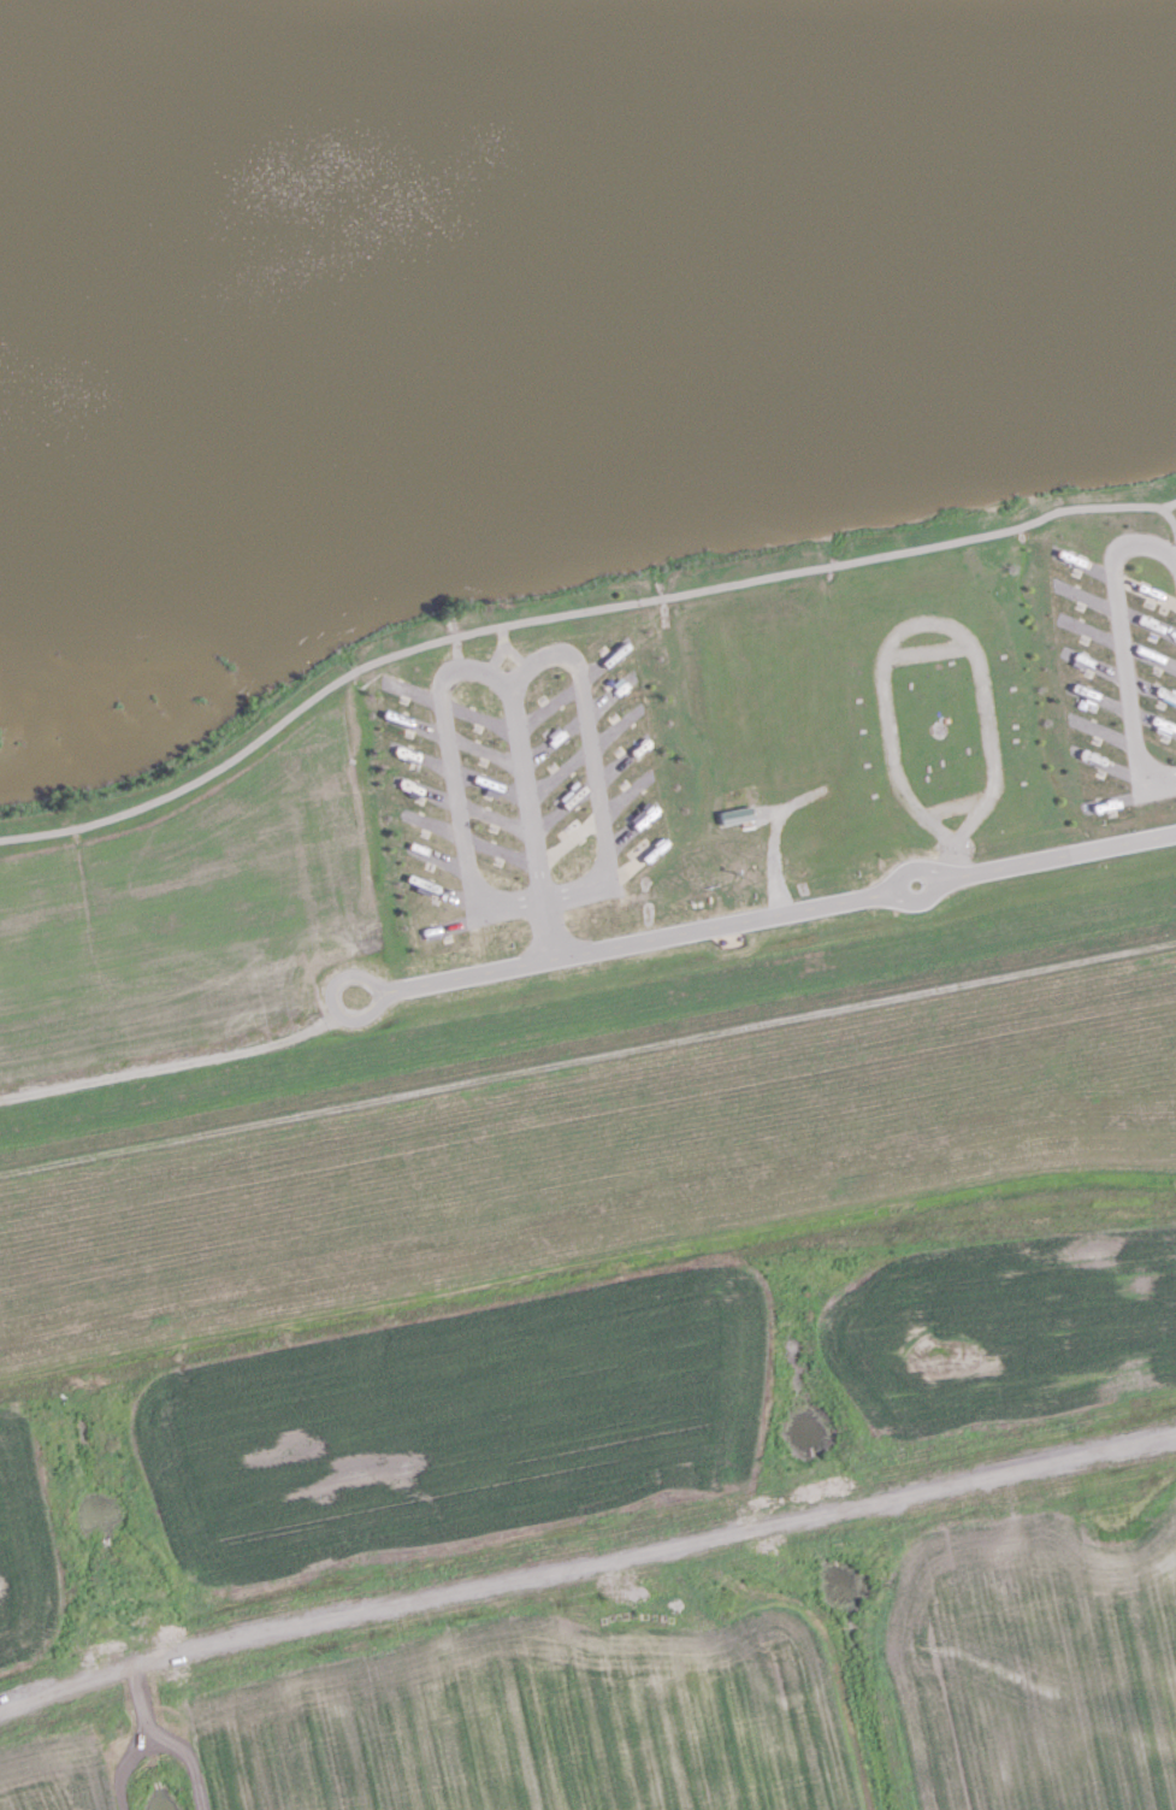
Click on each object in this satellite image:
road: (1171, 519)
park: (566, 531)
road: (1081, 560)
road: (1144, 586)
road: (1086, 596)
road: (568, 611)
road: (1146, 620)
road: (940, 621)
road: (1089, 630)
road: (502, 632)
helipad: (754, 639)
road: (1121, 642)
road: (515, 653)
road: (1148, 654)
road: (496, 656)
road: (603, 662)
road: (1093, 664)
road: (1151, 686)
road: (413, 690)
road: (609, 695)
road: (1100, 697)
road: (548, 707)
road: (479, 717)
road: (1153, 720)
road: (418, 723)
road: (615, 726)
road: (1104, 729)
road: (552, 739)
road: (484, 750)
road: (421, 756)
road: (621, 759)
road: (592, 760)
road: (1111, 765)
road: (557, 770)
road: (453, 779)
road: (489, 780)
road: (427, 790)
road: (625, 792)
road: (1123, 796)
road: (563, 804)
road: (494, 816)
road: (528, 819)
road: (432, 823)
road: (630, 829)
road: (568, 837)
road: (498, 848)
road: (1057, 855)
road: (438, 856)
road: (632, 862)
road: (887, 888)
road: (448, 891)
road: (457, 922)
road: (640, 938)
road: (331, 997)
road: (585, 1561)

